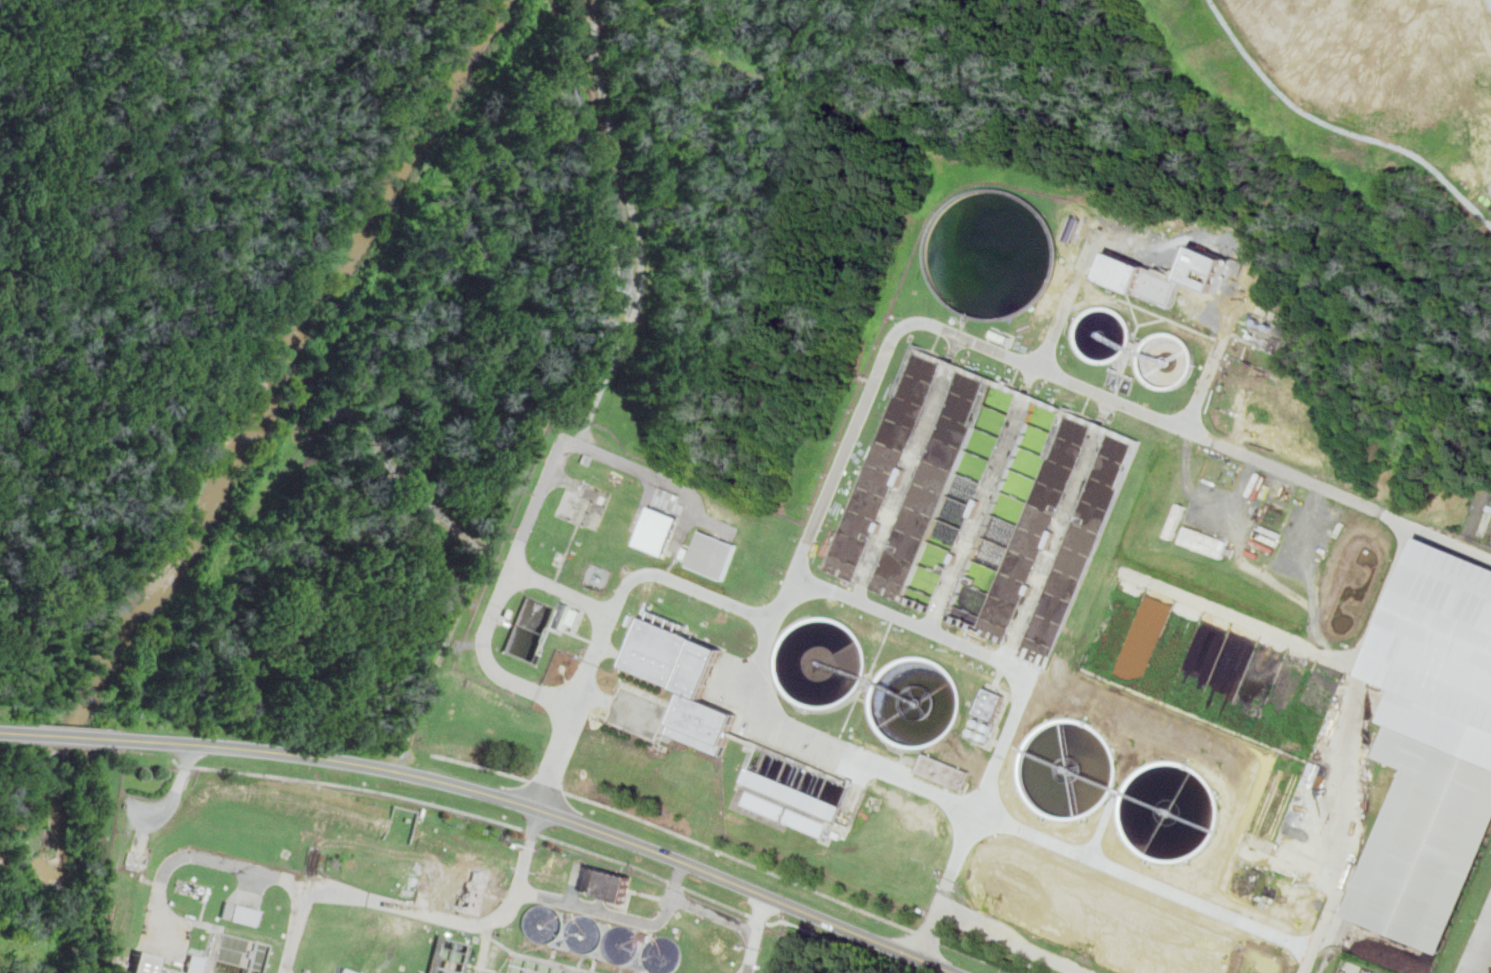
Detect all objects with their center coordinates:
building: (1140, 278)
landfill: (717, 282)
road: (1063, 312)
road: (1069, 378)
road: (1207, 380)
river: (255, 433)
road: (582, 441)
building: (956, 445)
road: (648, 472)
road: (397, 473)
building: (658, 531)
building: (1206, 541)
building: (712, 556)
road: (684, 583)
building: (970, 590)
road: (871, 603)
wastewater plant: (1023, 622)
road: (445, 653)
road: (485, 656)
road: (1360, 658)
building: (682, 681)
building: (988, 704)
road: (618, 705)
road: (18, 732)
road: (80, 737)
building: (1433, 744)
road: (1000, 745)
road: (864, 759)
road: (480, 768)
building: (944, 771)
road: (548, 787)
building: (792, 793)
building: (762, 805)
road: (550, 813)
building: (803, 822)
road: (551, 839)
road: (741, 861)
building: (547, 877)
building: (602, 885)
road: (1338, 888)
wastewater plant: (382, 890)
road: (340, 892)
building: (468, 893)
building: (242, 914)
road: (621, 915)
road: (929, 928)
road: (295, 929)
road: (756, 934)
building: (644, 936)
road: (926, 937)
road: (1014, 938)
road: (1484, 952)
road: (975, 957)
building: (149, 963)
building: (196, 964)
building: (208, 971)

